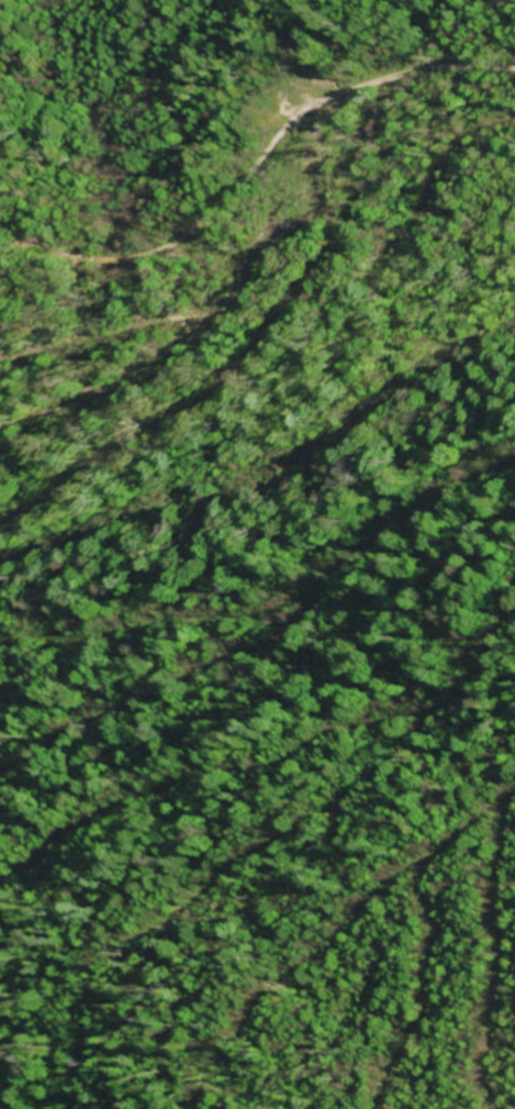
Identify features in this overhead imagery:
road: (267, 331)

